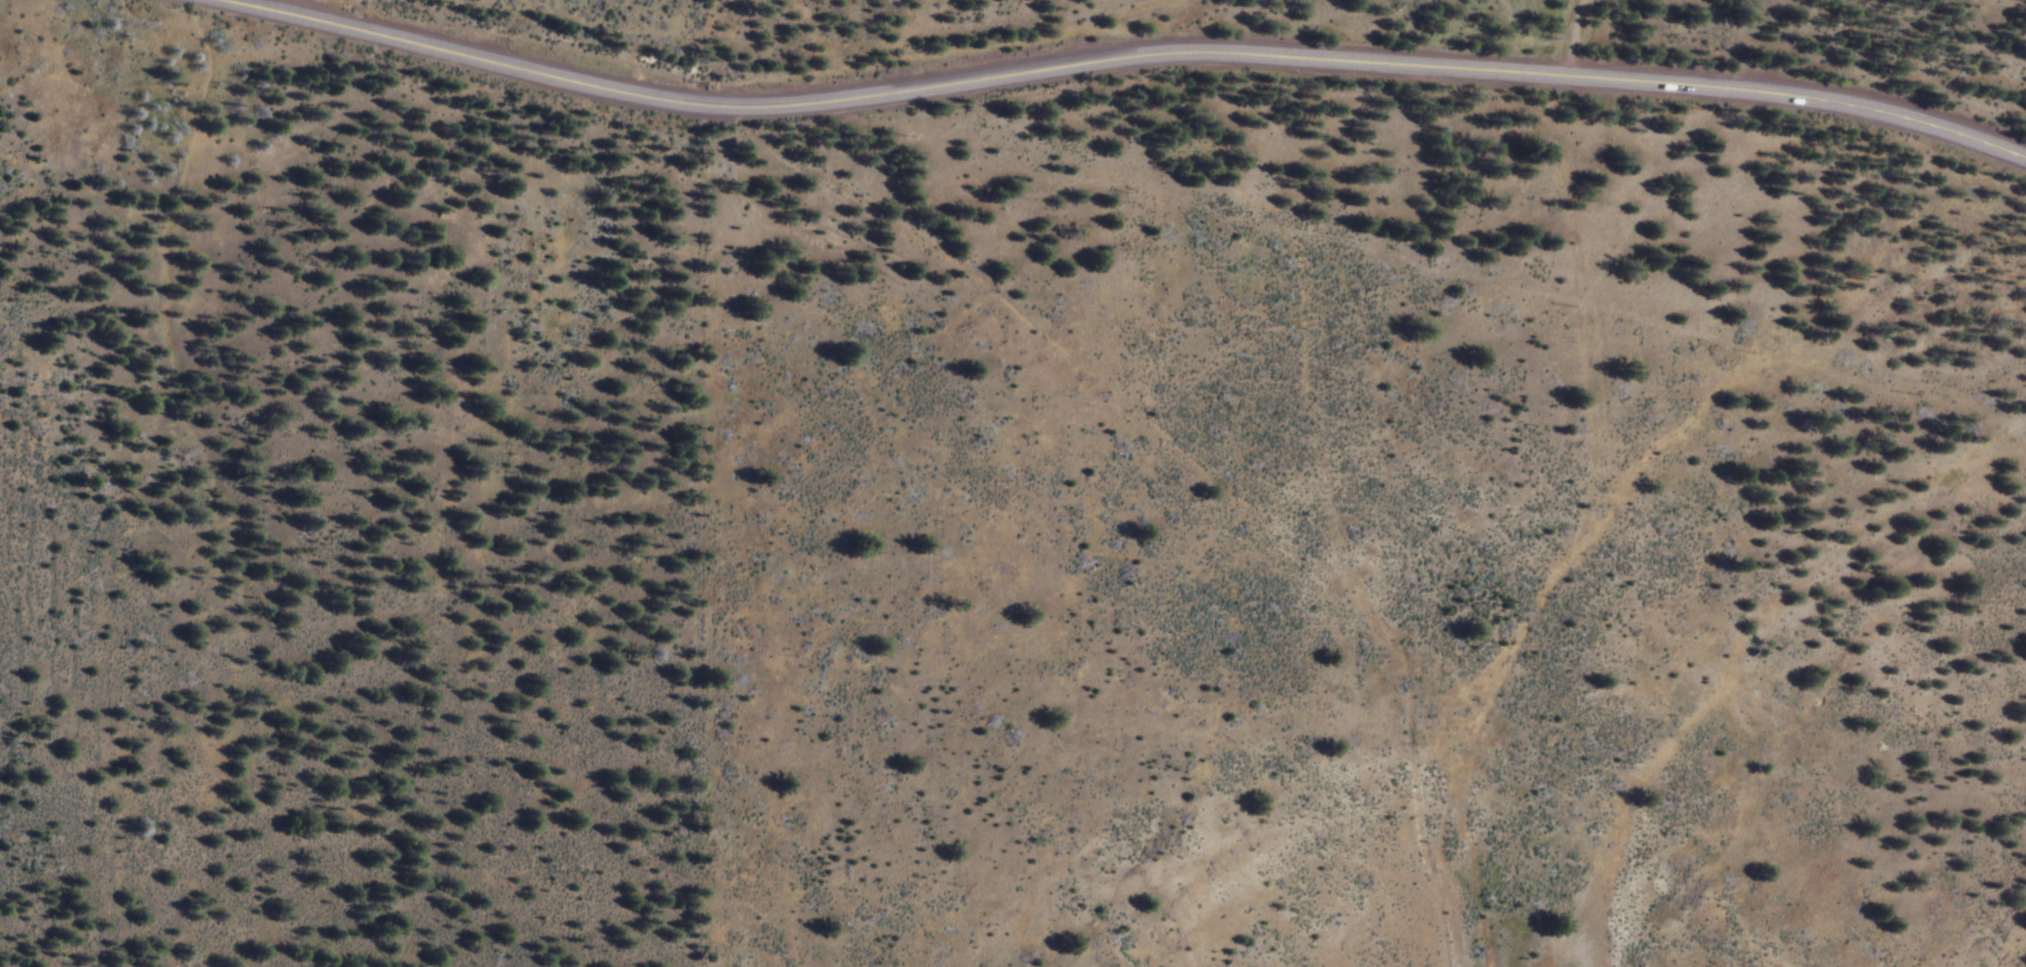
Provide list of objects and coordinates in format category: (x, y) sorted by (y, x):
road: (1575, 36)
road: (1121, 56)

